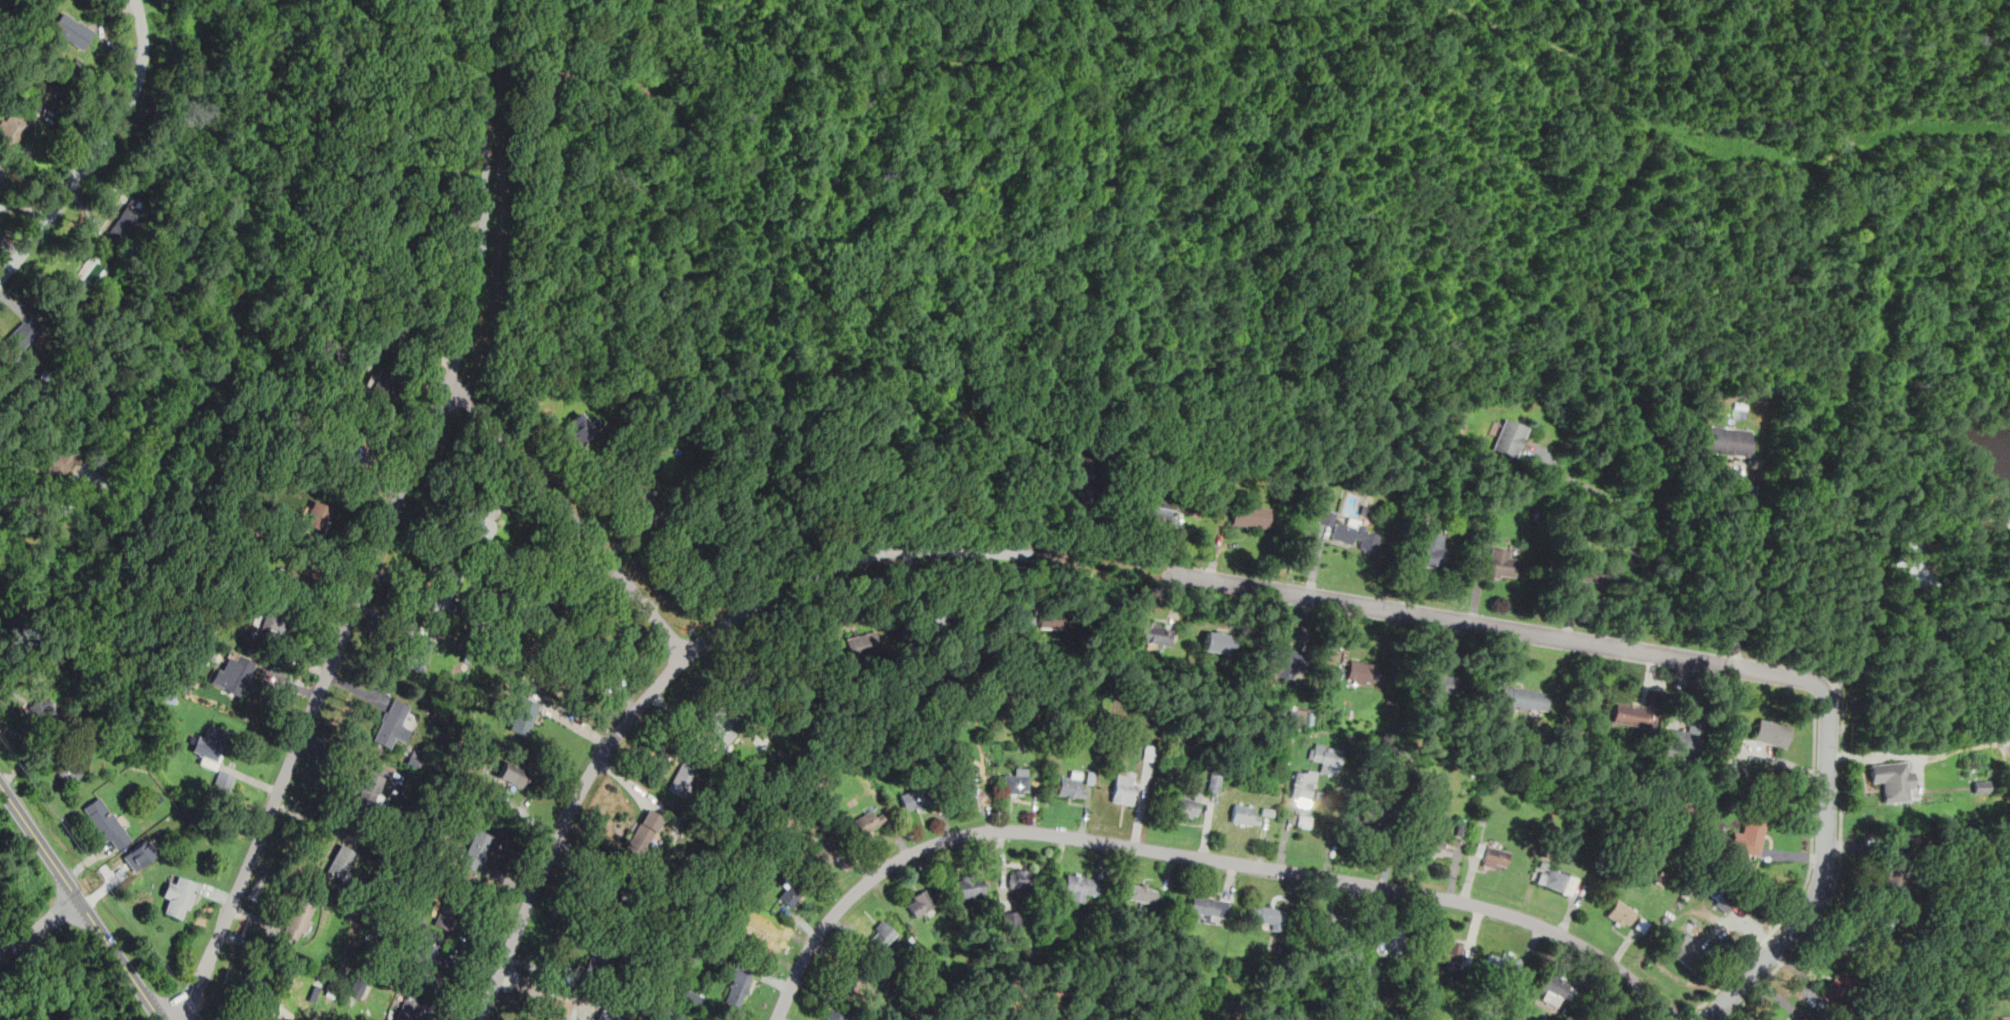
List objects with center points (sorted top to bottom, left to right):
road: (1247, 23)
road: (197, 24)
building: (71, 29)
road: (487, 55)
building: (54, 89)
building: (400, 127)
building: (12, 131)
road: (97, 150)
building: (0, 178)
road: (212, 178)
building: (127, 223)
road: (483, 233)
road: (1598, 268)
building: (93, 270)
building: (24, 333)
building: (366, 355)
building: (45, 376)
building: (380, 384)
building: (579, 429)
building: (292, 435)
building: (1509, 437)
building: (1727, 441)
building: (348, 453)
building: (63, 463)
building: (1076, 463)
road: (1045, 483)
building: (639, 495)
road: (21, 506)
building: (1160, 511)
building: (316, 515)
road: (570, 515)
building: (1250, 516)
building: (1326, 517)
building: (478, 523)
road: (1635, 524)
building: (291, 525)
building: (1356, 535)
building: (1431, 548)
building: (686, 551)
building: (1919, 552)
road: (862, 559)
building: (1502, 563)
road: (1102, 564)
road: (1745, 565)
building: (299, 570)
building: (1590, 578)
building: (447, 591)
building: (550, 601)
building: (274, 612)
building: (935, 616)
building: (1041, 616)
road: (1497, 628)
street lamp: (688, 630)
building: (1156, 632)
building: (920, 633)
road: (1848, 637)
building: (1215, 641)
building: (863, 644)
building: (419, 653)
building: (592, 653)
building: (57, 658)
building: (1285, 660)
building: (1363, 672)
building: (233, 674)
building: (180, 680)
building: (1444, 683)
road: (321, 687)
building: (1525, 698)
building: (1091, 705)
building: (1111, 708)
building: (42, 711)
building: (1633, 714)
building: (524, 716)
road: (567, 719)
building: (724, 722)
building: (393, 724)
street lamp: (602, 730)
building: (1771, 732)
building: (1686, 738)
building: (211, 743)
building: (1588, 745)
building: (1149, 753)
building: (1326, 757)
building: (67, 769)
building: (512, 774)
building: (682, 778)
building: (1214, 779)
building: (1892, 779)
building: (224, 780)
building: (1016, 782)
building: (1983, 784)
building: (1071, 786)
building: (1302, 786)
building: (961, 787)
building: (1124, 788)
building: (368, 792)
building: (914, 799)
building: (1185, 807)
building: (1374, 810)
road: (568, 812)
building: (1244, 814)
building: (1304, 820)
building: (871, 821)
building: (106, 822)
building: (643, 833)
building: (1749, 836)
building: (1435, 847)
building: (474, 849)
building: (824, 853)
building: (139, 856)
street lamp: (534, 856)
road: (1200, 856)
building: (1495, 857)
building: (339, 862)
road: (1823, 873)
building: (1896, 877)
building: (1661, 878)
building: (1022, 879)
building: (1556, 879)
building: (1081, 885)
street lamp: (49, 887)
building: (970, 888)
building: (1141, 892)
building: (791, 893)
building: (615, 895)
building: (179, 897)
road: (79, 902)
building: (920, 902)
building: (1722, 903)
building: (1208, 907)
building: (449, 909)
building: (1621, 913)
building: (1267, 916)
building: (298, 919)
building: (1012, 920)
building: (1641, 925)
building: (1334, 926)
road: (37, 927)
building: (765, 931)
building: (1881, 931)
building: (882, 934)
building: (372, 935)
building: (1392, 938)
building: (1681, 947)
building: (1449, 951)
road: (1, 954)
street lamp: (492, 957)
building: (426, 961)
building: (599, 963)
building: (1373, 965)
building: (1504, 965)
building: (566, 973)
building: (847, 977)
building: (246, 985)
building: (332, 985)
building: (737, 985)
road: (1975, 985)
building: (1553, 986)
building: (356, 987)
building: (1842, 988)
building: (693, 997)
building: (408, 1009)
building: (560, 1009)
building: (45, 1011)
building: (607, 1015)
building: (835, 1015)
building: (1603, 1015)
road: (259, 1018)

